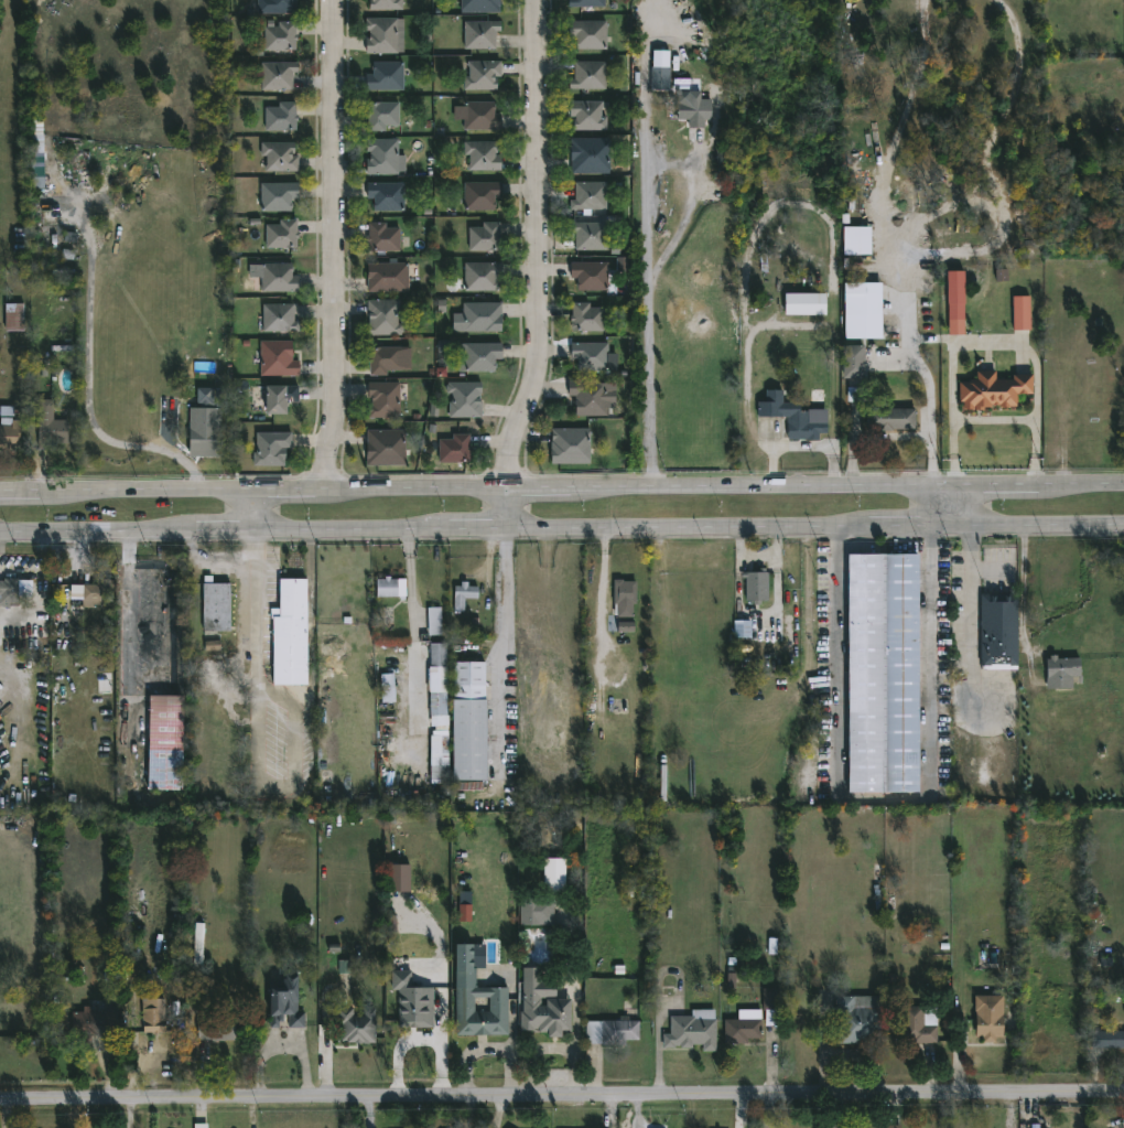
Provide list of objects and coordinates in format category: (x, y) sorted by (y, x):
building: (585, 3)
building: (385, 4)
building: (274, 6)
building: (480, 6)
building: (480, 34)
building: (588, 34)
building: (383, 35)
building: (280, 36)
building: (482, 75)
building: (277, 76)
building: (385, 76)
building: (588, 76)
building: (663, 78)
building: (691, 107)
building: (381, 115)
building: (586, 115)
building: (479, 116)
building: (280, 117)
building: (485, 155)
building: (587, 155)
building: (381, 157)
building: (280, 158)
building: (386, 195)
building: (479, 195)
building: (278, 196)
building: (588, 196)
building: (281, 234)
building: (588, 235)
building: (382, 236)
building: (484, 237)
building: (857, 240)
road: (649, 241)
road: (344, 244)
building: (622, 265)
road: (547, 267)
building: (588, 275)
building: (480, 276)
building: (277, 278)
building: (387, 278)
building: (863, 299)
building: (804, 304)
building: (1022, 313)
building: (13, 315)
building: (585, 316)
building: (278, 318)
building: (382, 318)
building: (477, 318)
building: (955, 327)
road: (965, 342)
building: (590, 356)
building: (477, 357)
building: (280, 359)
building: (382, 361)
building: (850, 362)
road: (89, 386)
building: (994, 391)
building: (212, 396)
building: (588, 397)
building: (278, 399)
building: (382, 399)
building: (464, 399)
road: (952, 412)
building: (791, 417)
building: (891, 418)
road: (995, 419)
building: (52, 423)
building: (8, 433)
building: (207, 436)
road: (868, 436)
building: (570, 444)
building: (385, 448)
road: (175, 449)
building: (271, 449)
building: (454, 449)
road: (561, 486)
road: (963, 505)
road: (260, 508)
road: (561, 527)
road: (757, 556)
road: (411, 577)
building: (759, 586)
building: (391, 588)
building: (9, 591)
building: (96, 592)
building: (466, 594)
building: (628, 595)
building: (218, 605)
road: (604, 605)
road: (969, 608)
road: (260, 610)
road: (127, 611)
building: (434, 621)
building: (626, 626)
building: (995, 627)
building: (743, 630)
building: (293, 632)
road: (504, 644)
building: (213, 645)
building: (441, 654)
road: (837, 657)
road: (929, 657)
building: (1057, 670)
building: (877, 672)
building: (387, 688)
building: (442, 706)
building: (474, 720)
building: (170, 740)
building: (439, 756)
building: (1014, 775)
building: (554, 875)
building: (399, 878)
building: (540, 911)
building: (465, 913)
building: (126, 930)
building: (198, 944)
building: (344, 966)
building: (287, 998)
building: (480, 1000)
building: (413, 1002)
building: (767, 1006)
building: (545, 1008)
building: (155, 1016)
building: (985, 1017)
building: (855, 1019)
building: (917, 1023)
building: (90, 1024)
building: (361, 1025)
building: (743, 1027)
building: (218, 1029)
building: (422, 1029)
building: (695, 1030)
building: (615, 1032)
building: (1105, 1039)
road: (562, 1102)
building: (203, 1126)
building: (893, 1126)

